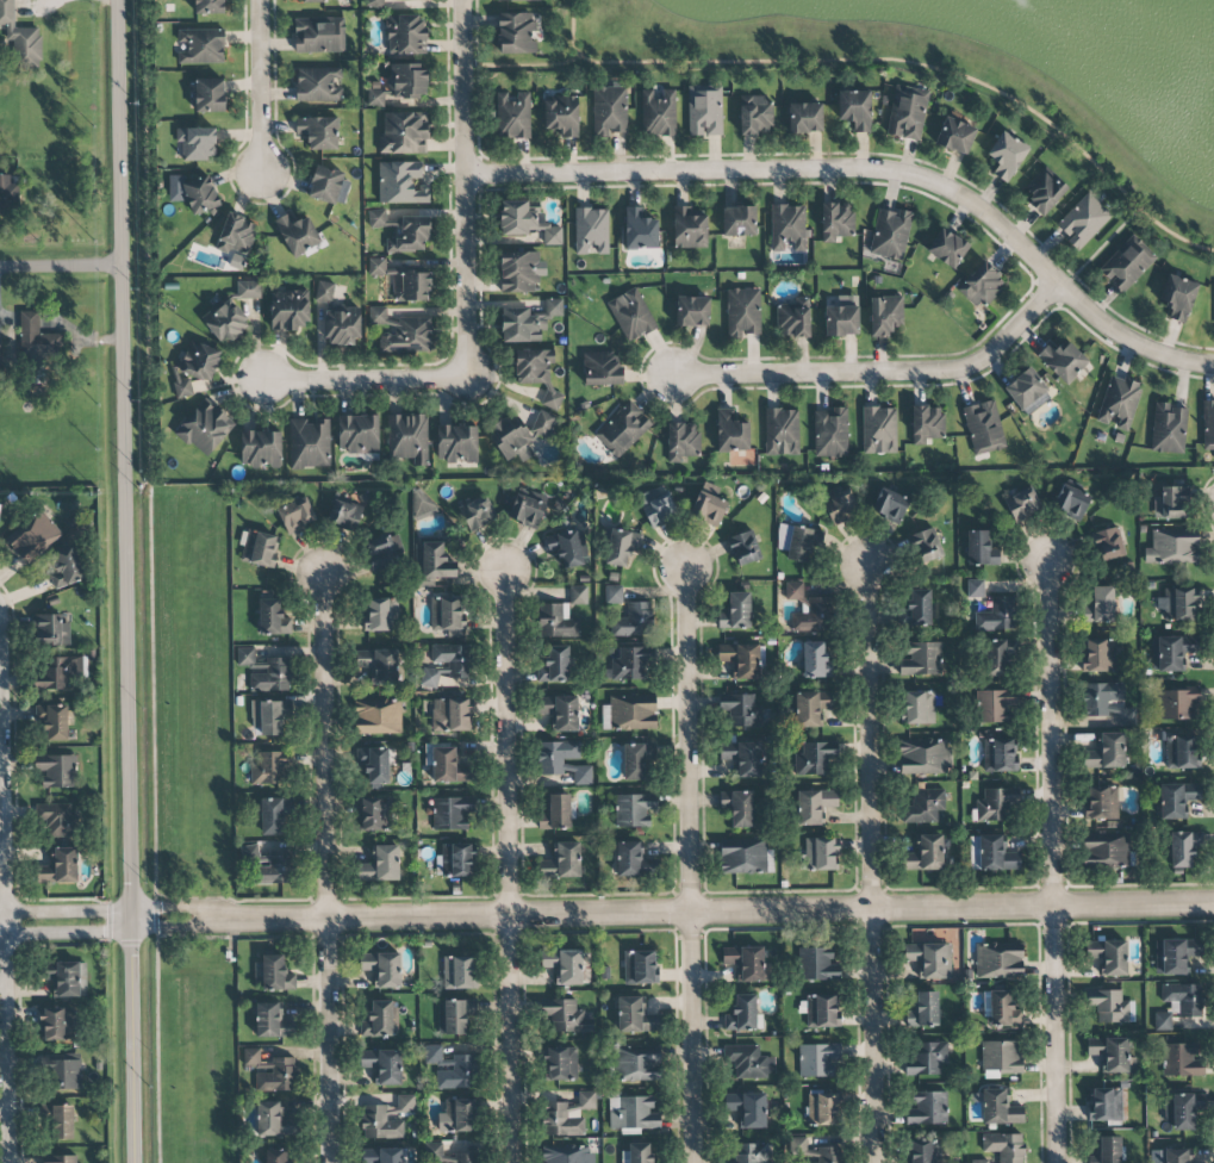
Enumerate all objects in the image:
building: (515, 0)
building: (309, 1)
fountain: (1003, 2)
building: (374, 4)
building: (208, 6)
building: (516, 33)
building: (319, 35)
building: (405, 35)
building: (20, 41)
building: (201, 45)
road: (897, 60)
road: (528, 64)
building: (317, 83)
building: (400, 83)
road: (260, 85)
building: (208, 95)
building: (704, 110)
building: (854, 110)
building: (609, 111)
building: (658, 112)
building: (907, 112)
building: (561, 114)
building: (754, 114)
building: (512, 116)
building: (804, 118)
building: (318, 132)
building: (404, 132)
building: (955, 136)
building: (197, 143)
road: (799, 153)
building: (1006, 155)
road: (870, 168)
building: (400, 182)
building: (329, 186)
road: (465, 188)
building: (1044, 189)
building: (192, 192)
building: (7, 195)
building: (376, 217)
building: (739, 220)
building: (836, 220)
building: (1083, 220)
building: (527, 222)
building: (690, 228)
building: (787, 228)
building: (640, 230)
building: (591, 231)
building: (297, 234)
building: (890, 234)
building: (236, 235)
building: (409, 235)
road: (1106, 241)
building: (947, 248)
building: (1126, 263)
road: (60, 267)
building: (375, 267)
building: (521, 270)
building: (980, 285)
building: (411, 286)
building: (324, 292)
building: (1178, 296)
building: (290, 309)
building: (692, 311)
building: (231, 312)
building: (742, 312)
building: (631, 315)
building: (885, 315)
building: (842, 317)
building: (527, 318)
building: (793, 318)
building: (342, 325)
building: (400, 332)
building: (37, 341)
road: (828, 356)
building: (0, 360)
building: (1063, 360)
building: (531, 366)
building: (198, 368)
building: (602, 368)
road: (883, 371)
road: (365, 378)
building: (1027, 391)
building: (552, 399)
building: (1119, 403)
building: (926, 423)
building: (542, 424)
building: (1208, 424)
building: (983, 427)
building: (204, 428)
building: (623, 429)
building: (1169, 429)
building: (879, 430)
building: (782, 431)
building: (730, 433)
building: (830, 433)
building: (357, 434)
building: (511, 437)
building: (407, 439)
building: (683, 441)
building: (456, 442)
building: (309, 444)
building: (261, 448)
building: (421, 502)
building: (1022, 503)
building: (1071, 503)
building: (1171, 503)
building: (890, 505)
building: (658, 506)
building: (840, 506)
building: (528, 508)
building: (708, 509)
building: (345, 512)
building: (477, 512)
building: (295, 515)
building: (33, 536)
building: (798, 541)
building: (1107, 543)
building: (926, 546)
building: (1172, 547)
building: (259, 548)
building: (565, 548)
building: (620, 548)
building: (743, 548)
building: (980, 548)
building: (381, 553)
building: (431, 562)
building: (66, 567)
road: (125, 580)
road: (149, 581)
building: (975, 589)
building: (614, 593)
building: (578, 595)
building: (1177, 603)
building: (1102, 604)
building: (917, 607)
building: (736, 611)
building: (447, 614)
building: (272, 615)
building: (380, 615)
building: (996, 615)
building: (814, 616)
building: (556, 621)
building: (634, 621)
building: (50, 630)
building: (1172, 652)
building: (1098, 655)
building: (245, 657)
building: (997, 658)
building: (741, 659)
building: (815, 659)
building: (921, 659)
building: (447, 663)
building: (629, 663)
building: (379, 665)
building: (555, 665)
building: (57, 673)
building: (1108, 702)
building: (1178, 703)
building: (995, 704)
building: (919, 707)
building: (810, 708)
building: (741, 710)
building: (452, 711)
building: (561, 711)
building: (630, 713)
building: (269, 717)
building: (378, 717)
building: (52, 722)
building: (1107, 752)
building: (1181, 752)
building: (998, 754)
building: (924, 755)
building: (742, 758)
building: (814, 758)
building: (564, 760)
building: (636, 760)
building: (448, 766)
building: (270, 767)
building: (57, 770)
building: (1177, 798)
building: (1102, 802)
building: (996, 804)
building: (814, 806)
building: (923, 806)
building: (737, 808)
building: (633, 809)
building: (375, 813)
building: (452, 813)
building: (558, 813)
building: (274, 815)
building: (58, 821)
building: (1183, 847)
building: (1106, 850)
building: (820, 853)
building: (926, 853)
building: (990, 853)
building: (745, 856)
building: (628, 858)
building: (455, 860)
building: (562, 862)
road: (1053, 862)
road: (870, 863)
building: (381, 864)
building: (268, 865)
building: (61, 866)
road: (508, 866)
road: (687, 866)
road: (323, 867)
road: (606, 913)
building: (1175, 954)
building: (1109, 956)
building: (929, 959)
building: (998, 960)
building: (745, 962)
building: (818, 963)
building: (562, 965)
building: (382, 968)
building: (640, 968)
building: (459, 972)
building: (275, 974)
building: (66, 978)
building: (1178, 1002)
building: (1109, 1006)
building: (821, 1010)
building: (923, 1010)
building: (1002, 1010)
building: (454, 1015)
building: (566, 1015)
building: (634, 1016)
building: (380, 1020)
building: (272, 1021)
building: (57, 1022)
road: (6, 1043)
building: (1112, 1053)
building: (250, 1056)
building: (436, 1057)
building: (926, 1057)
building: (1001, 1058)
building: (817, 1059)
building: (1182, 1061)
building: (560, 1063)
building: (636, 1063)
building: (748, 1063)
building: (382, 1065)
building: (459, 1074)
building: (63, 1075)
building: (278, 1076)
building: (1104, 1106)
building: (747, 1108)
building: (822, 1108)
building: (928, 1108)
building: (1000, 1108)
building: (1182, 1109)
building: (631, 1113)
building: (457, 1115)
building: (567, 1115)
building: (386, 1119)
building: (273, 1120)
building: (60, 1122)
building: (1004, 1146)
building: (1107, 1150)
building: (811, 1151)
building: (923, 1151)
building: (639, 1152)
building: (566, 1153)
building: (749, 1153)
building: (1176, 1155)
building: (382, 1156)
building: (450, 1156)
building: (60, 1158)
building: (979, 1161)

